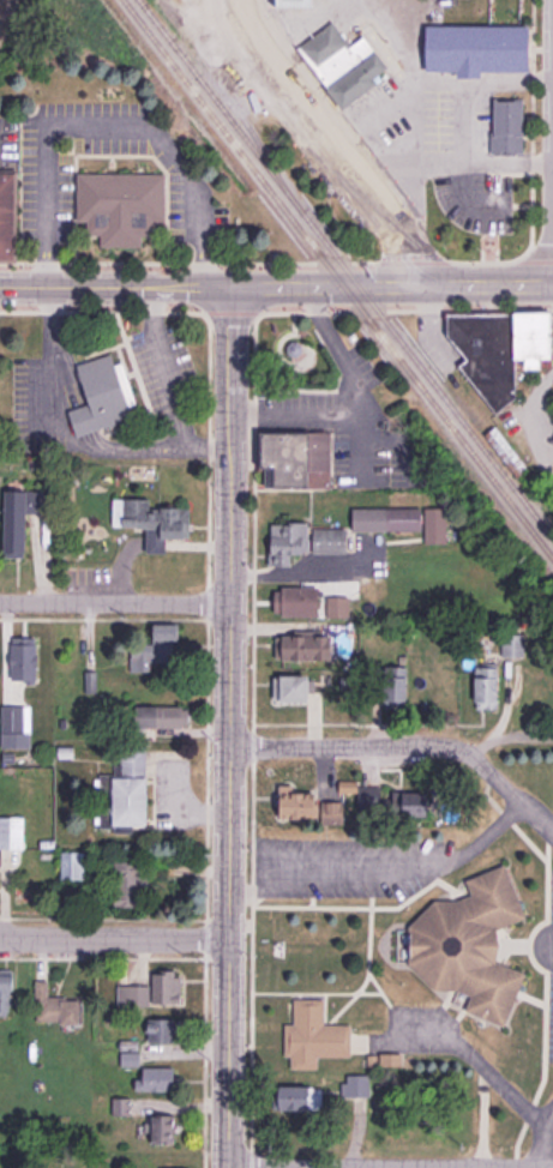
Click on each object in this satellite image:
building: (476, 48)
building: (343, 62)
road: (401, 120)
road: (365, 122)
road: (107, 125)
building: (507, 125)
road: (330, 147)
parking lot: (46, 177)
road: (551, 182)
building: (121, 205)
building: (7, 217)
road: (276, 263)
railway: (347, 269)
railway: (339, 278)
road: (276, 287)
road: (276, 311)
building: (500, 348)
parking lot: (164, 368)
road: (162, 371)
building: (108, 389)
parking lot: (36, 407)
building: (84, 417)
road: (68, 433)
building: (296, 459)
building: (70, 474)
building: (20, 517)
building: (403, 519)
building: (152, 520)
building: (288, 541)
building: (329, 541)
road: (285, 570)
building: (297, 601)
road: (113, 603)
building: (338, 607)
road: (103, 618)
building: (512, 644)
building: (155, 646)
building: (305, 646)
building: (23, 657)
building: (90, 680)
building: (396, 685)
building: (291, 687)
building: (487, 688)
building: (162, 716)
building: (13, 727)
road: (227, 727)
road: (253, 737)
road: (206, 739)
road: (385, 748)
building: (66, 752)
building: (131, 789)
building: (368, 796)
building: (407, 803)
building: (312, 808)
building: (11, 831)
building: (72, 865)
parking lot: (348, 866)
road: (402, 868)
building: (128, 884)
road: (103, 917)
road: (113, 940)
building: (471, 944)
road: (102, 957)
road: (530, 958)
parking lot: (551, 979)
building: (167, 987)
building: (5, 989)
building: (133, 995)
building: (55, 1006)
building: (164, 1029)
building: (313, 1035)
building: (130, 1052)
building: (156, 1079)
building: (355, 1085)
building: (291, 1097)
building: (126, 1107)
building: (163, 1130)
road: (543, 1138)
road: (389, 1167)
road: (545, 1167)

